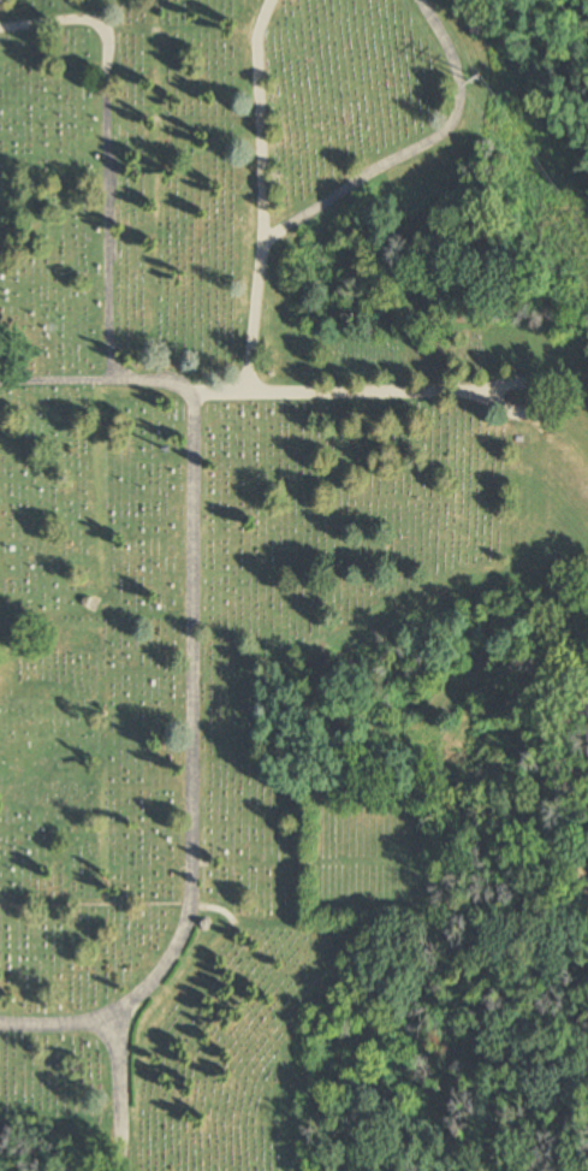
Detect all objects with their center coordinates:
power tower: (486, 83)
road: (259, 117)
road: (415, 148)
road: (107, 153)
road: (255, 314)
road: (392, 392)
road: (523, 578)
park: (291, 590)
road: (194, 678)
road: (119, 1090)

